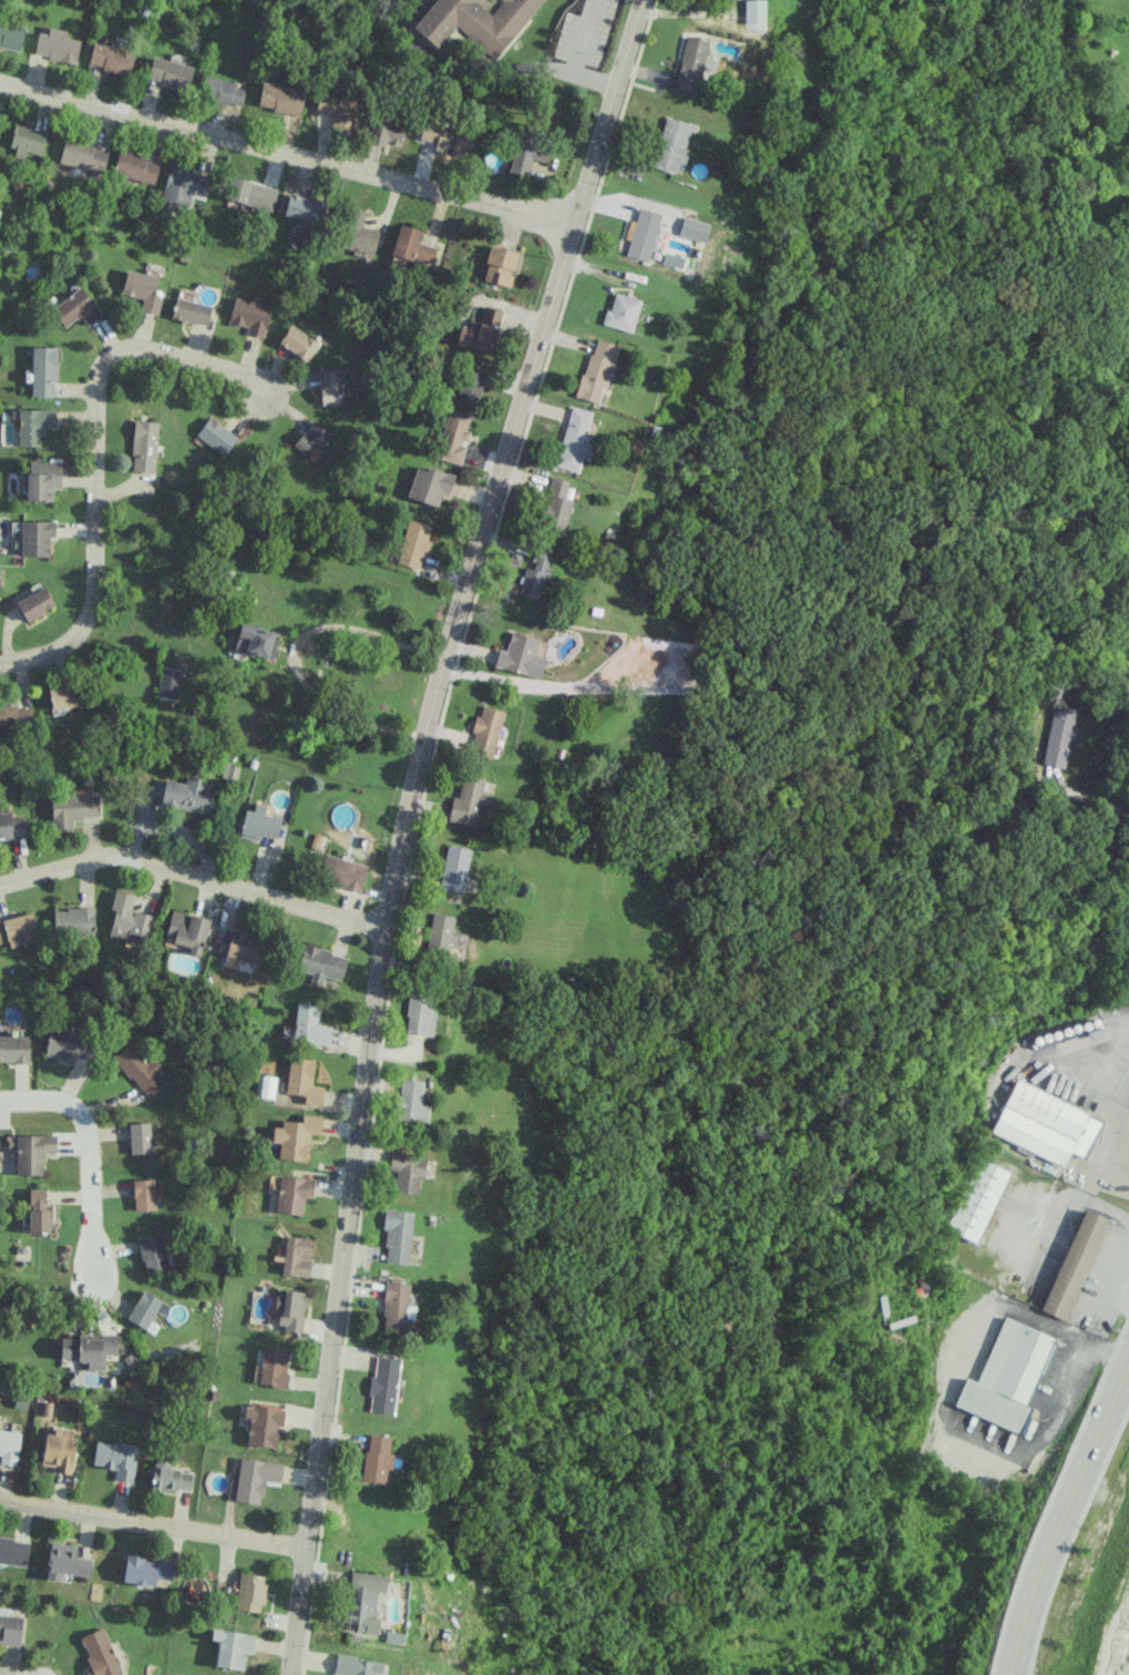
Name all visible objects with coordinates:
building: (752, 11)
building: (475, 21)
building: (10, 34)
building: (55, 47)
road: (574, 57)
building: (109, 58)
road: (464, 64)
building: (689, 64)
building: (167, 73)
building: (219, 91)
building: (280, 99)
building: (337, 110)
building: (383, 130)
building: (25, 140)
building: (445, 140)
building: (670, 144)
road: (285, 154)
building: (81, 155)
building: (134, 167)
building: (181, 187)
building: (249, 194)
building: (302, 208)
building: (357, 233)
building: (642, 234)
building: (410, 245)
building: (499, 266)
building: (141, 289)
building: (74, 308)
building: (188, 311)
building: (620, 311)
building: (248, 316)
building: (480, 331)
building: (297, 343)
building: (595, 370)
building: (42, 371)
building: (470, 381)
building: (329, 386)
building: (32, 426)
building: (215, 436)
building: (452, 436)
building: (310, 438)
building: (574, 439)
building: (143, 446)
road: (94, 453)
building: (42, 480)
building: (428, 486)
building: (555, 505)
building: (35, 538)
building: (412, 544)
building: (534, 573)
building: (33, 604)
building: (255, 641)
road: (292, 651)
building: (516, 654)
building: (673, 657)
road: (552, 683)
building: (61, 696)
building: (14, 716)
building: (485, 732)
building: (1059, 735)
building: (186, 795)
road: (1087, 798)
building: (468, 800)
building: (72, 809)
road: (402, 824)
building: (11, 826)
building: (257, 826)
building: (454, 868)
road: (193, 874)
building: (340, 874)
building: (127, 917)
building: (73, 921)
building: (17, 928)
building: (439, 933)
building: (244, 946)
building: (320, 963)
building: (419, 1015)
building: (309, 1024)
building: (69, 1045)
building: (13, 1049)
building: (138, 1069)
building: (302, 1080)
building: (265, 1085)
building: (411, 1102)
road: (1127, 1103)
building: (1045, 1124)
building: (295, 1136)
building: (140, 1137)
road: (1112, 1144)
building: (32, 1153)
road: (89, 1155)
building: (407, 1171)
building: (292, 1194)
building: (144, 1195)
building: (978, 1198)
building: (37, 1211)
building: (397, 1235)
building: (152, 1252)
building: (296, 1256)
building: (1077, 1264)
building: (398, 1307)
building: (145, 1309)
building: (291, 1309)
road: (1110, 1349)
building: (88, 1350)
building: (274, 1366)
building: (1006, 1377)
building: (383, 1385)
road: (938, 1417)
building: (263, 1424)
building: (9, 1447)
building: (58, 1451)
building: (115, 1458)
building: (376, 1458)
building: (168, 1477)
building: (255, 1479)
road: (1060, 1515)
road: (153, 1525)
building: (13, 1551)
building: (66, 1561)
building: (146, 1570)
building: (249, 1592)
building: (363, 1601)
building: (10, 1630)
building: (232, 1647)
building: (99, 1653)
building: (356, 1666)

